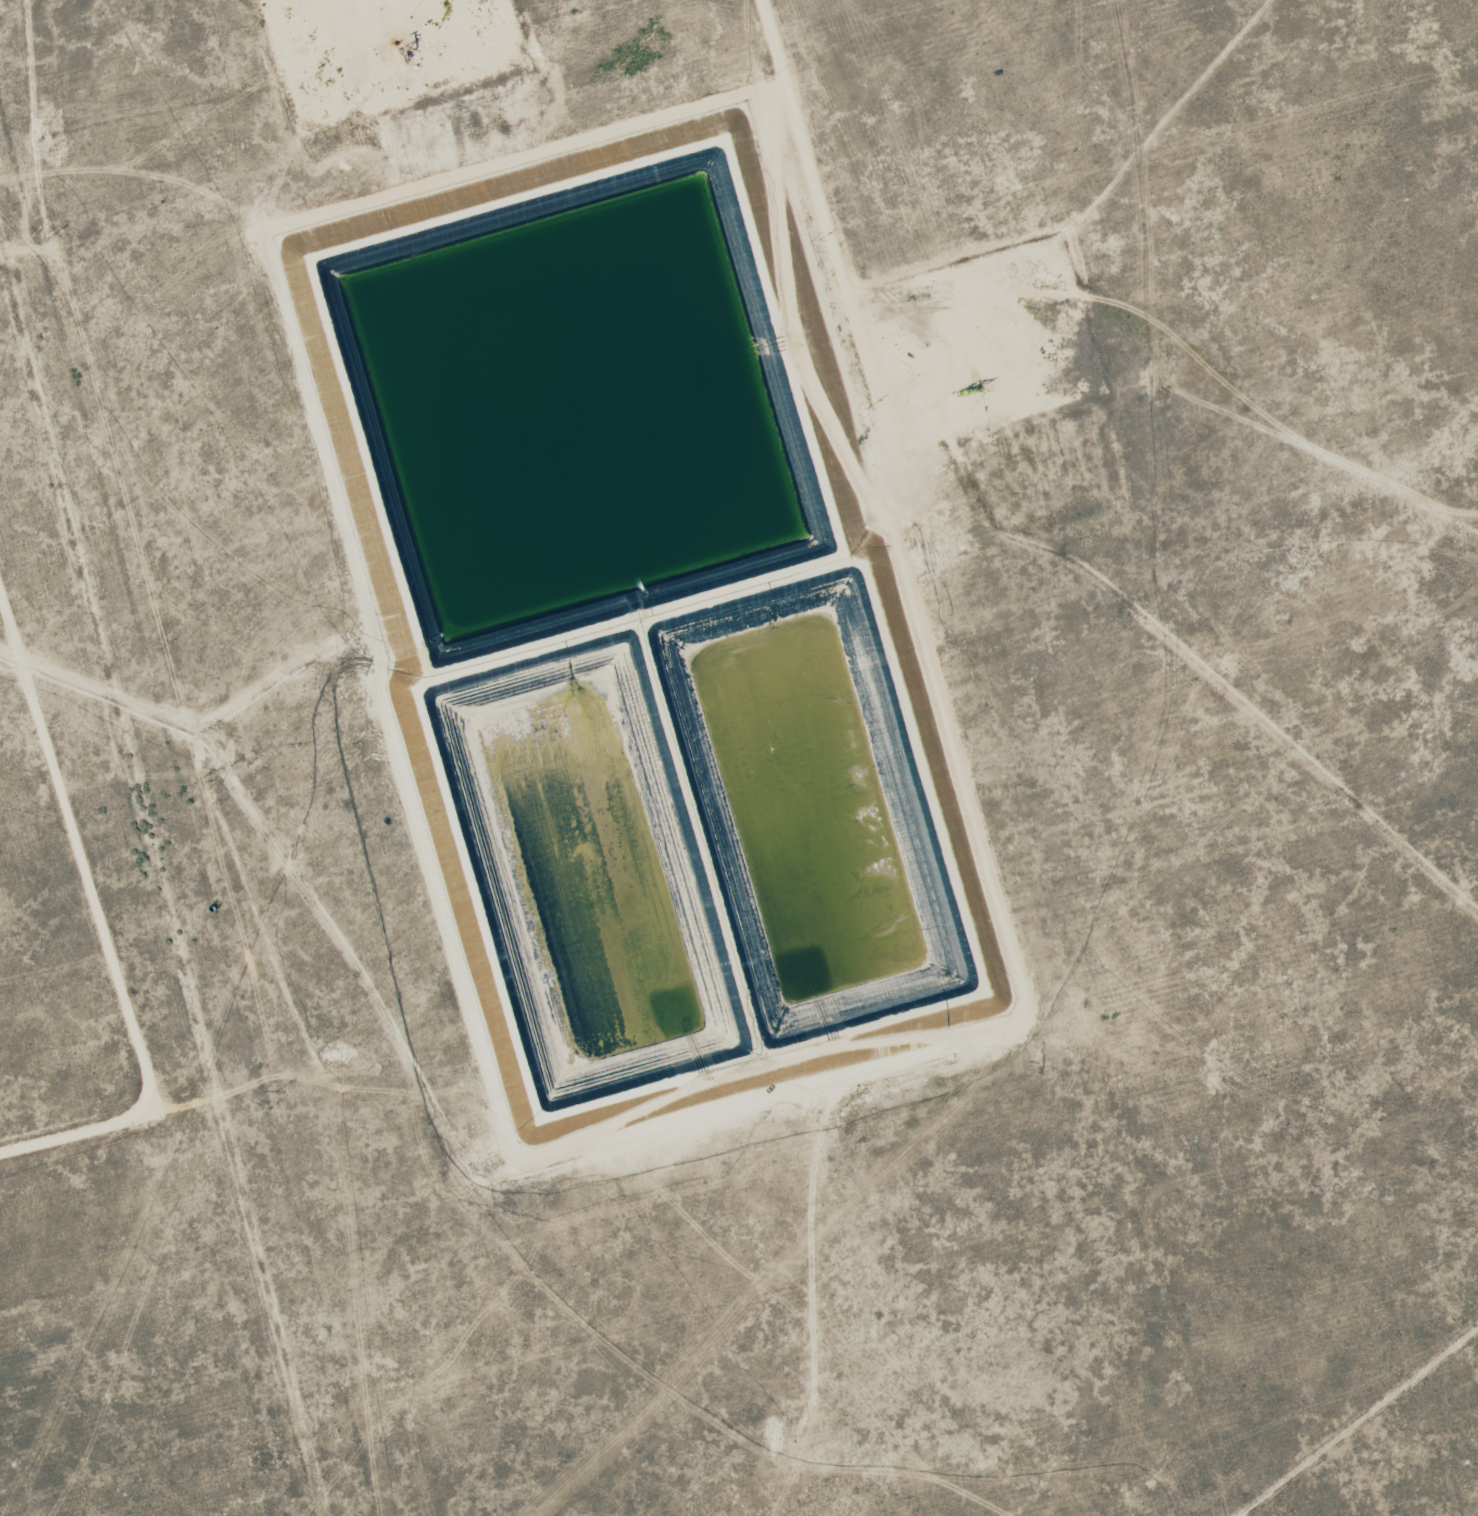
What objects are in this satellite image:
river: (1460, 1310)

